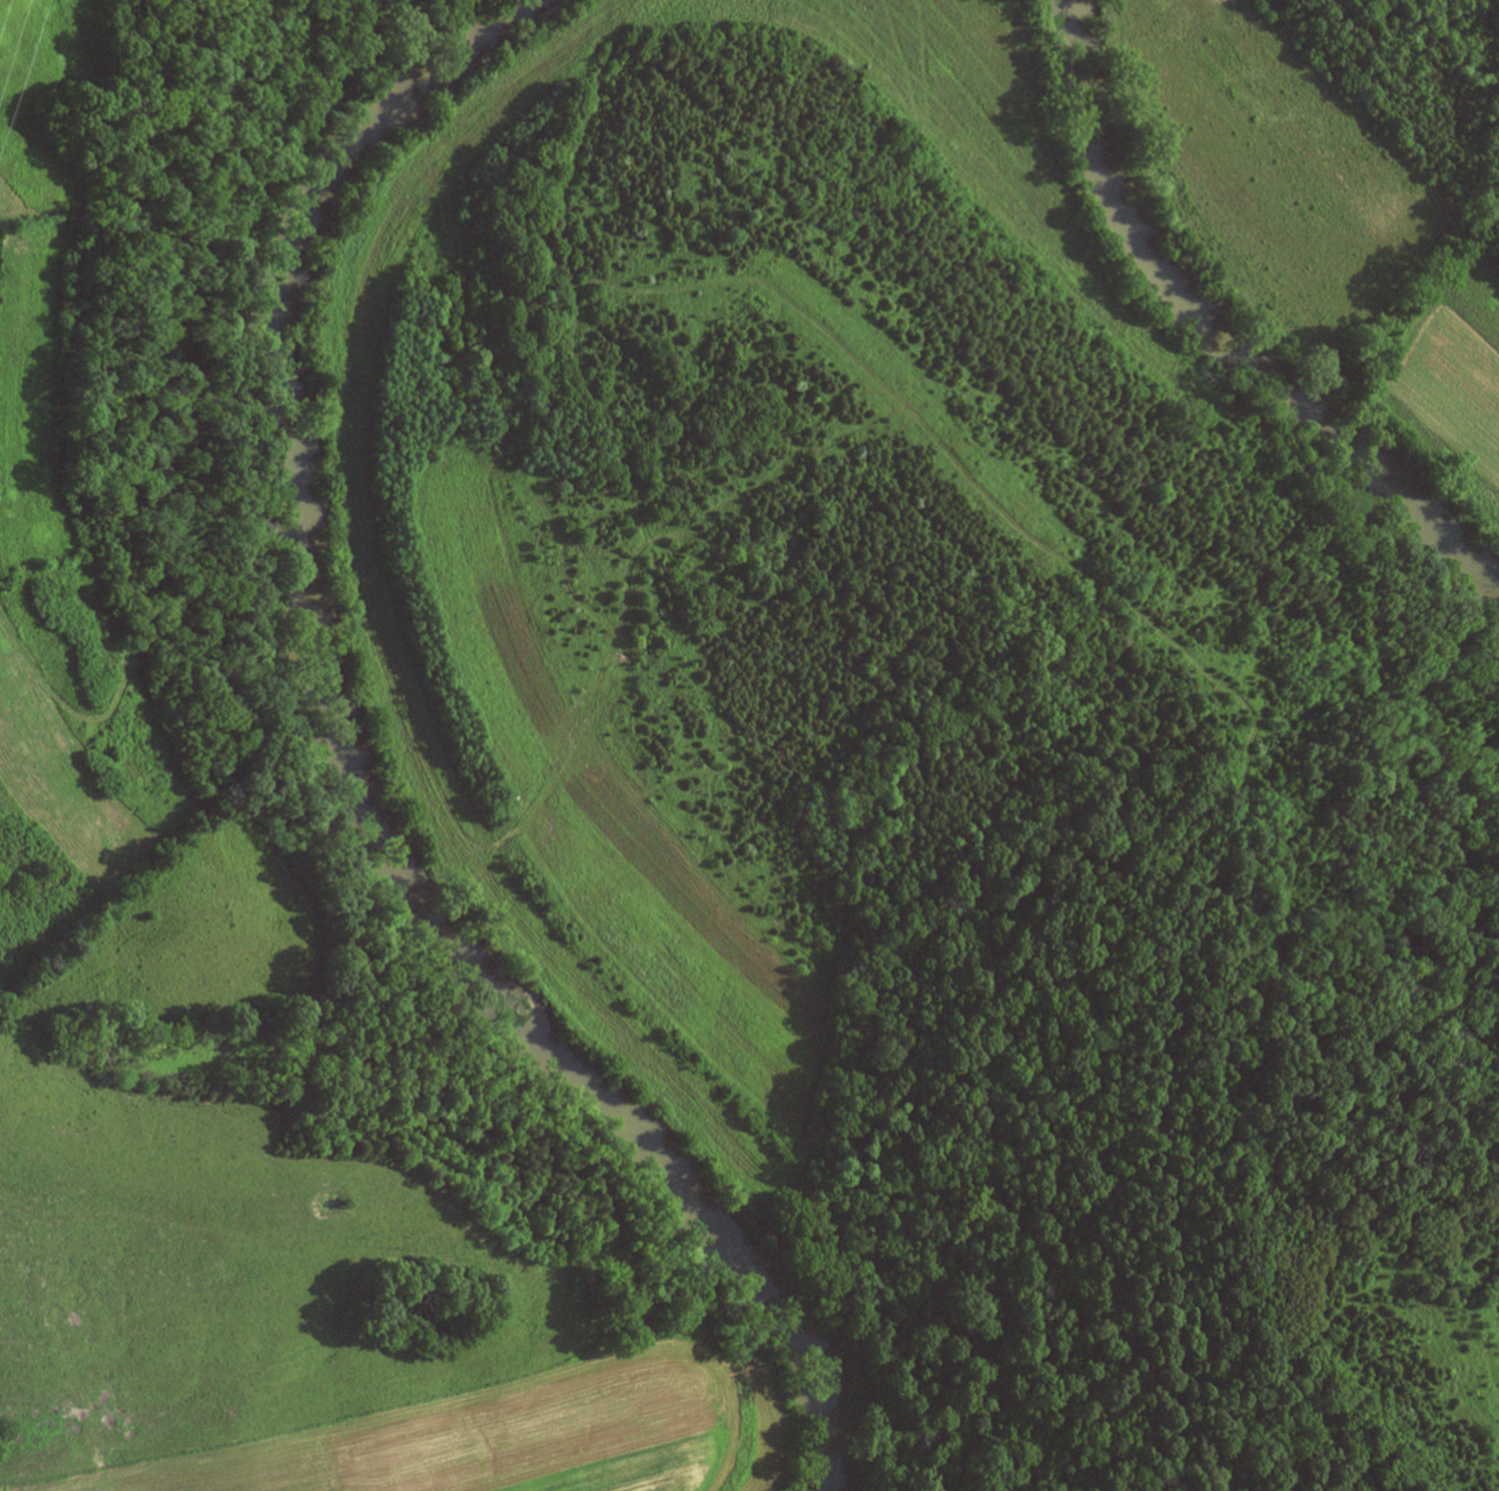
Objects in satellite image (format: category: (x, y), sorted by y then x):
river: (1217, 331)
building: (5, 343)
river: (365, 760)
road: (1214, 898)

